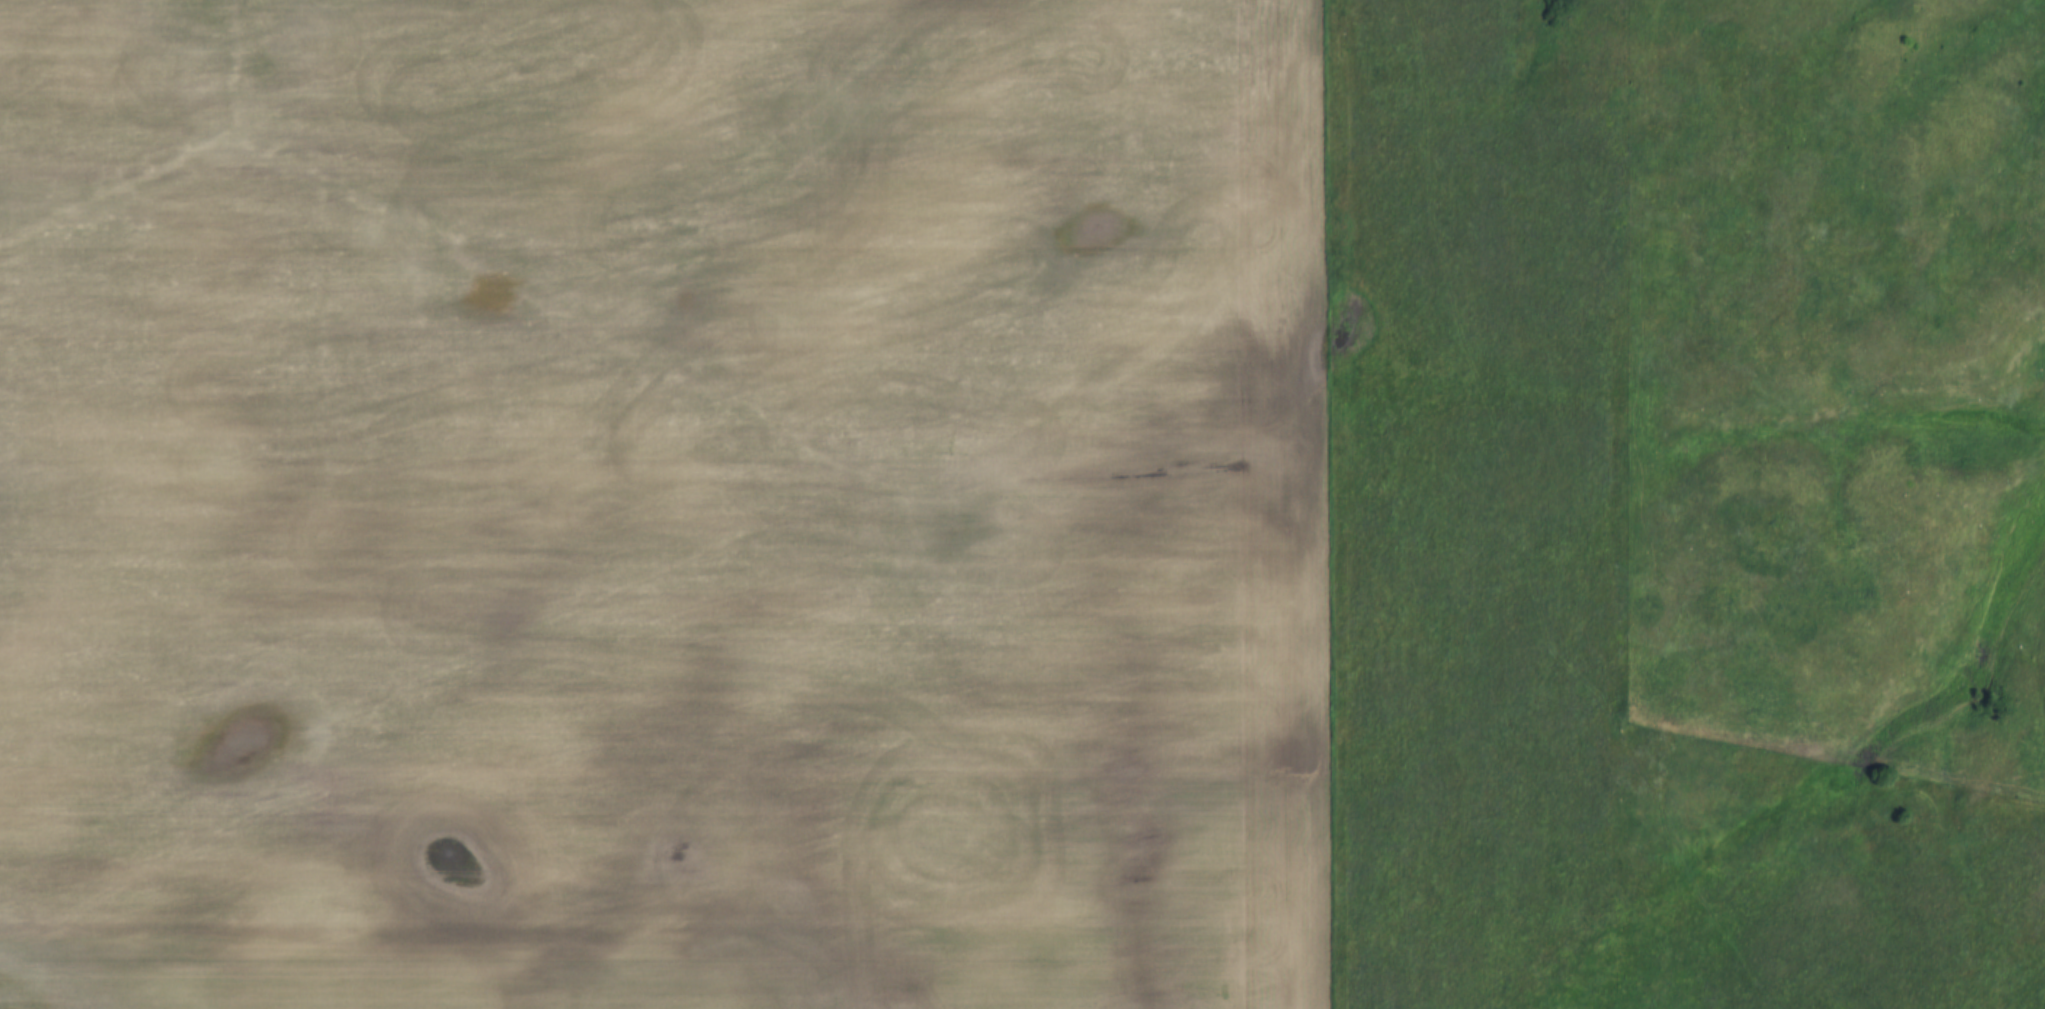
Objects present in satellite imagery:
road: (1335, 504)

